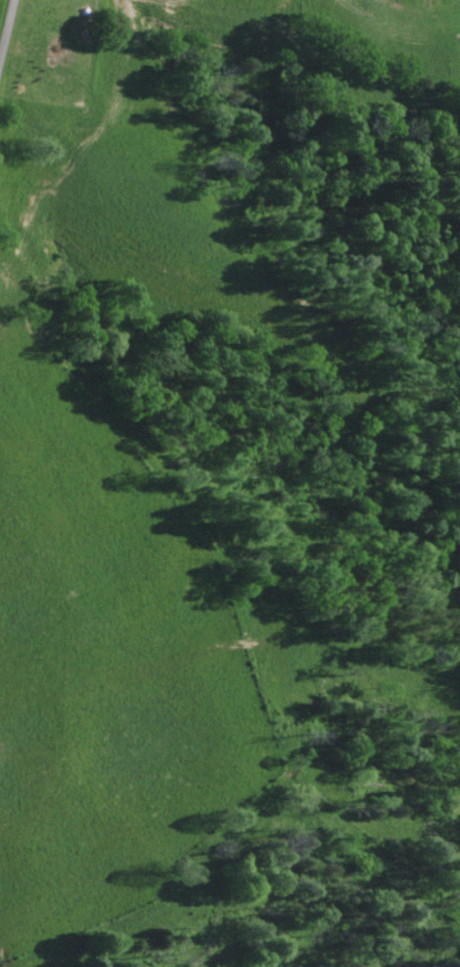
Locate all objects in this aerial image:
road: (5, 24)
crop: (129, 470)

